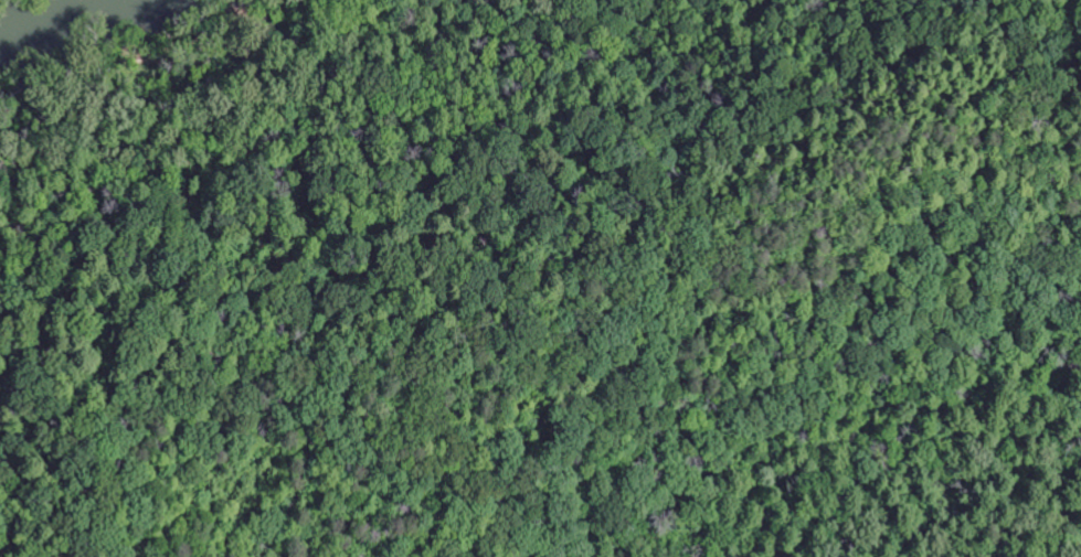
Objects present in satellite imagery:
river: (49, 20)

